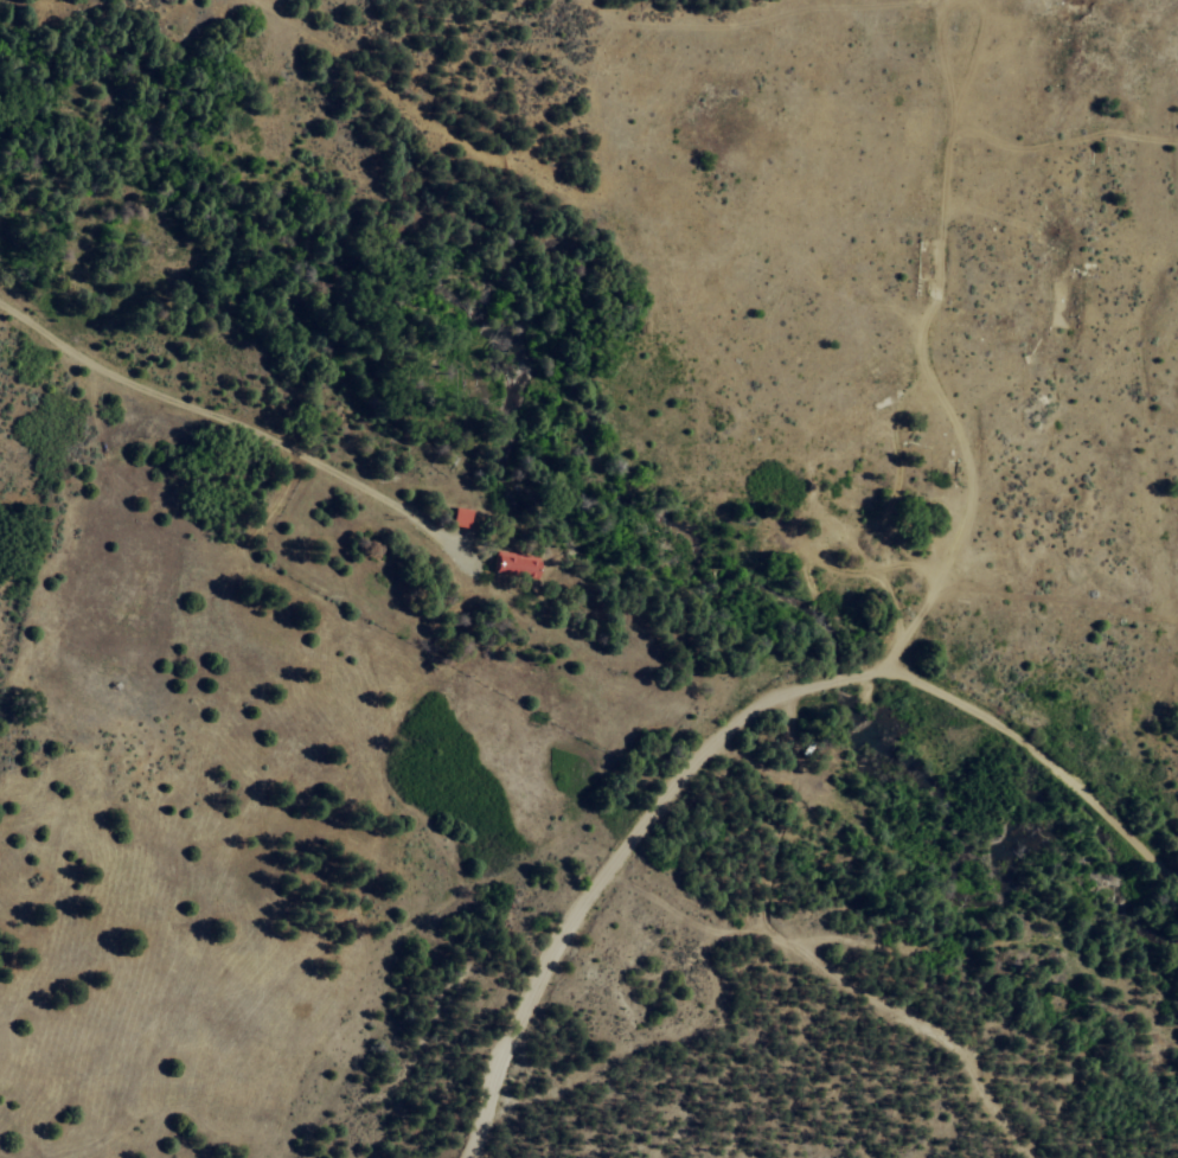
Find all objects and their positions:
road: (591, 13)
road: (380, 103)
road: (928, 343)
road: (370, 492)
building: (457, 517)
building: (513, 564)
road: (1044, 760)
road: (626, 852)
road: (857, 986)

